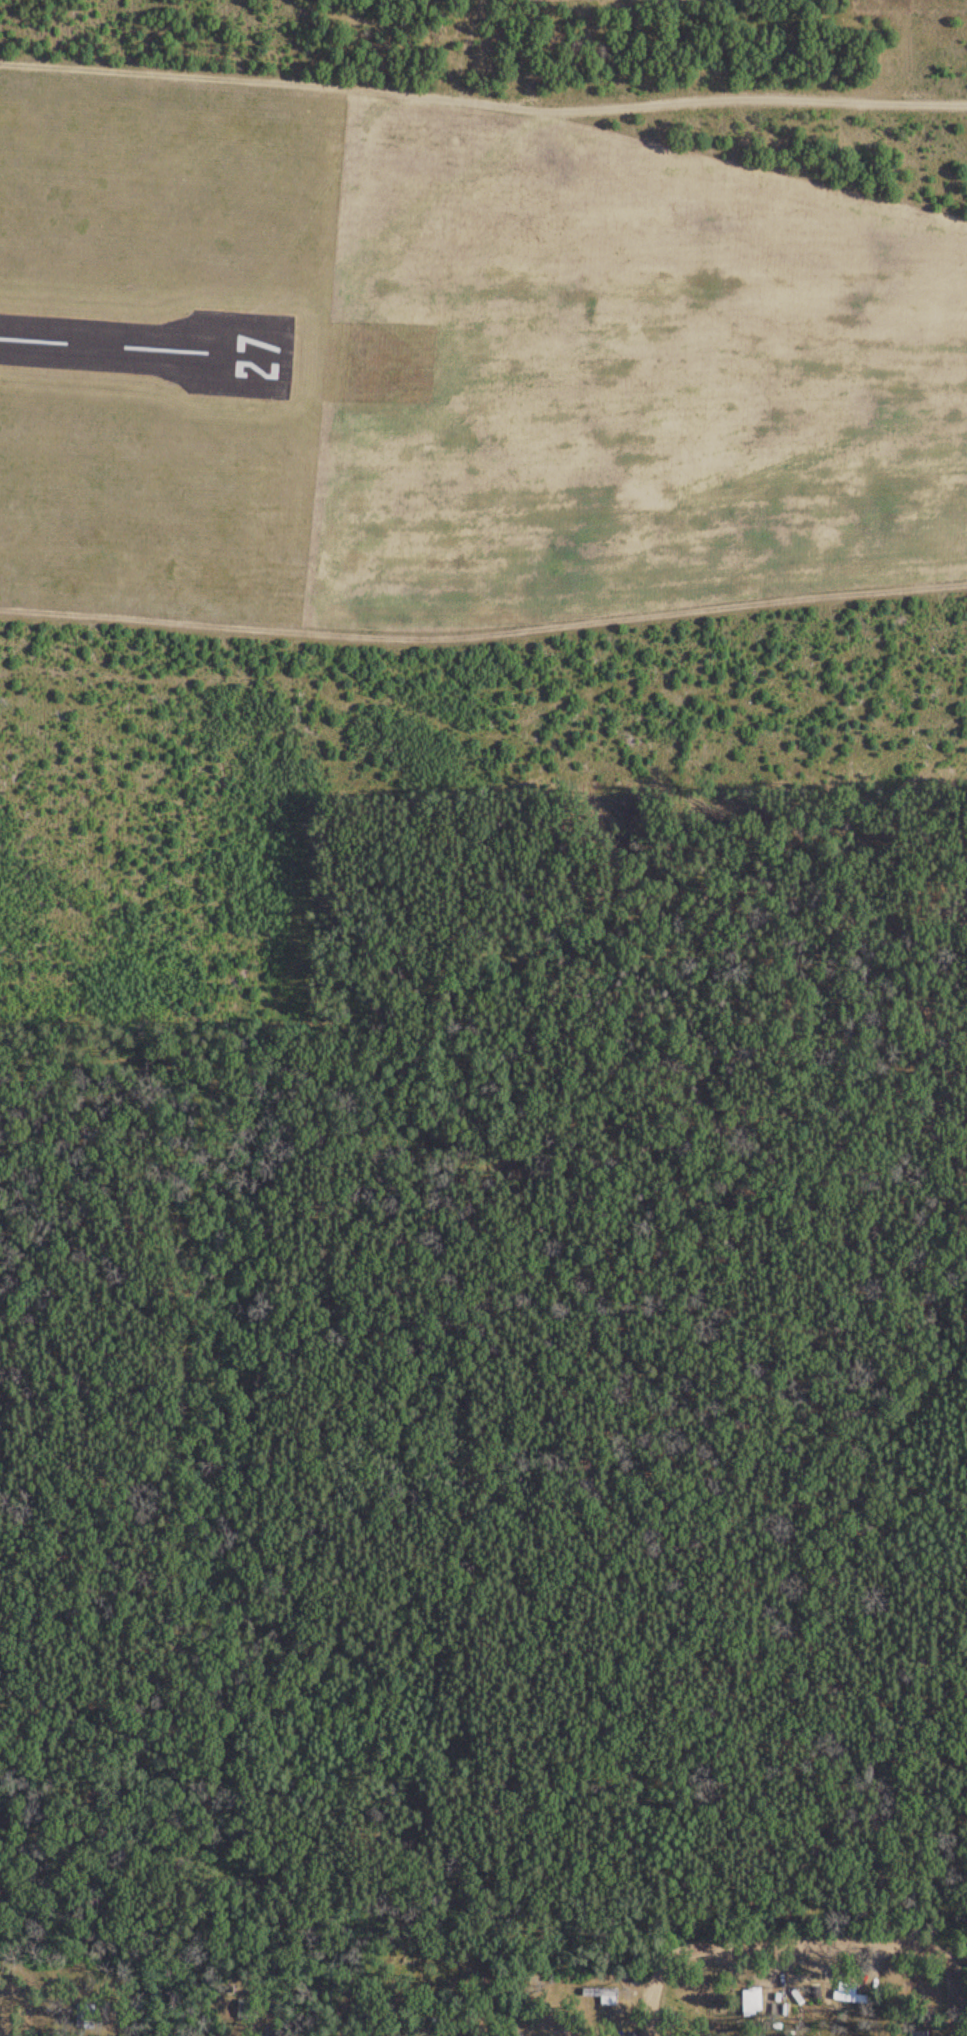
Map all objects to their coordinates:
road: (4, 16)
road: (483, 34)
airport runway: (133, 344)
airport: (457, 373)
road: (621, 891)
road: (335, 1924)
road: (807, 1946)
road: (654, 1991)
road: (943, 1997)
building: (751, 2002)

